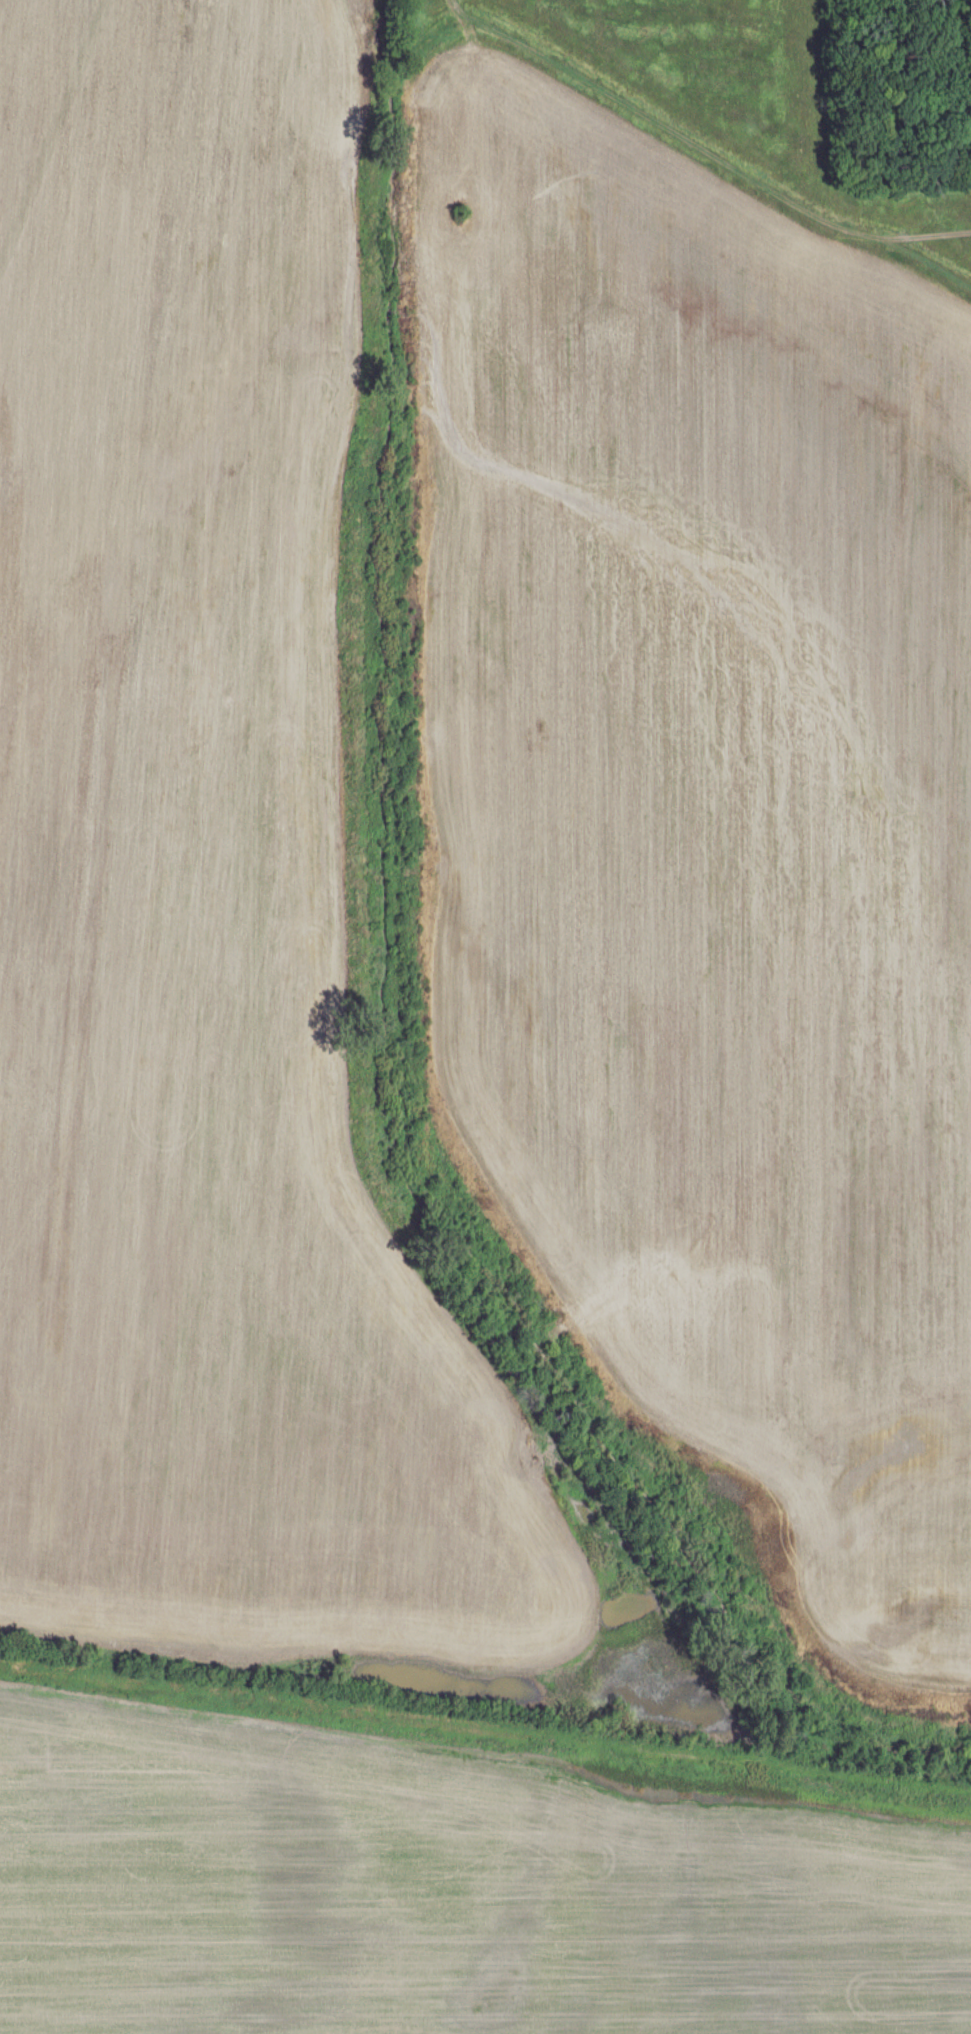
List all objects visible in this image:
crop: (710, 816)
crop: (440, 1903)

